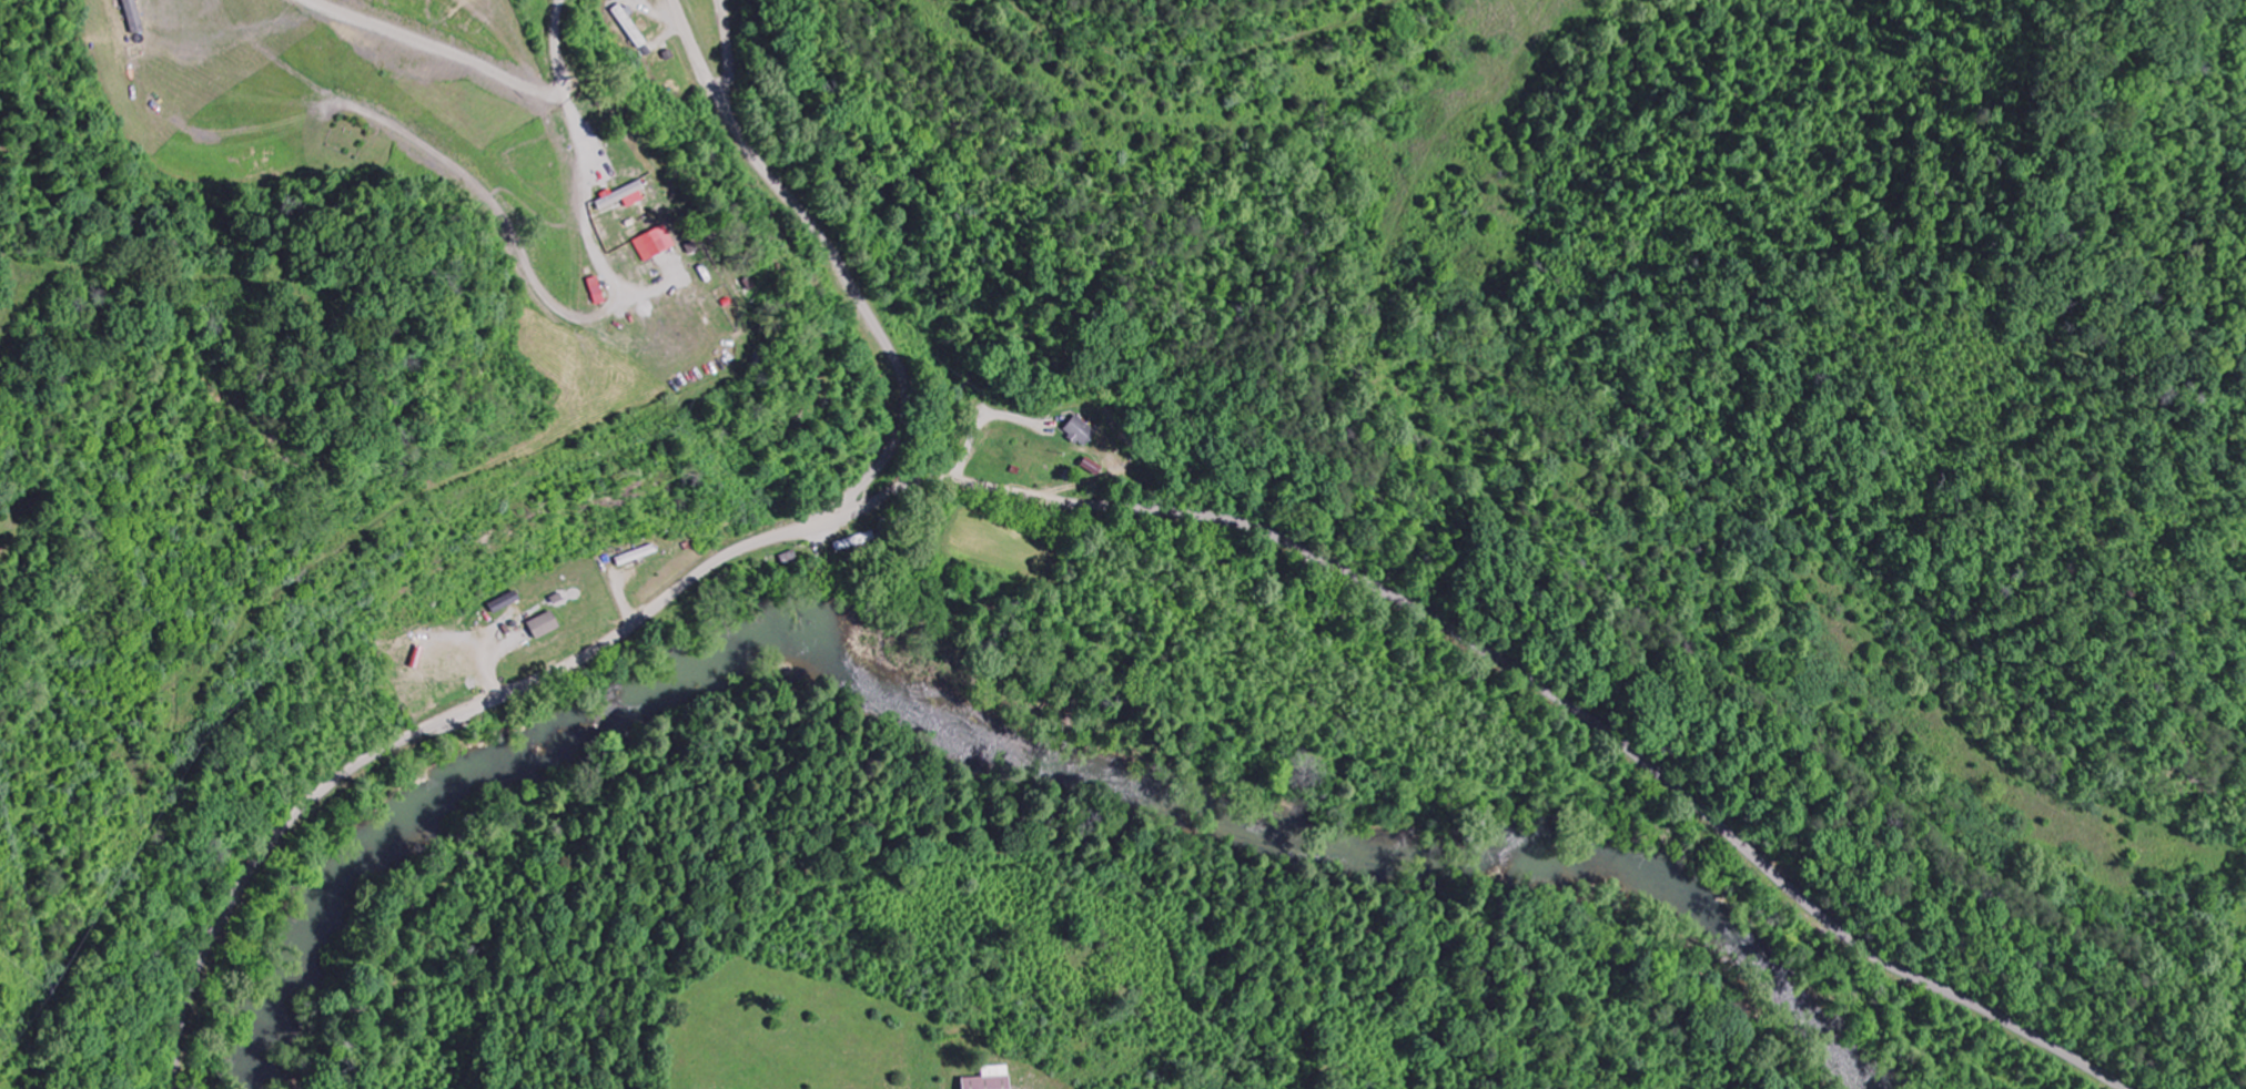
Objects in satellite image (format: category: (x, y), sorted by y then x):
building: (134, 16)
building: (621, 193)
building: (656, 242)
building: (601, 289)
building: (1079, 430)
building: (1092, 465)
road: (1096, 508)
building: (507, 601)
building: (545, 623)
river: (995, 740)
building: (988, 1082)

